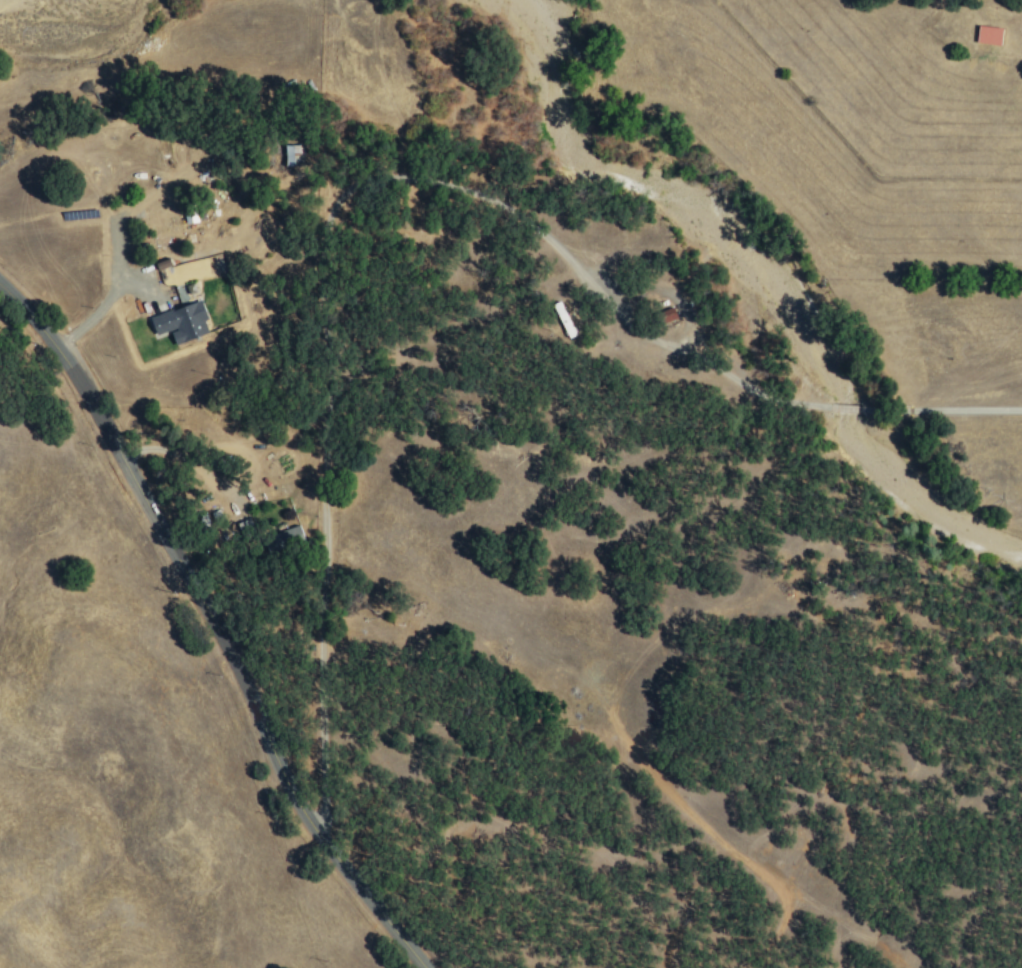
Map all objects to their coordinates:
building: (988, 36)
building: (293, 155)
river: (675, 198)
road: (99, 306)
building: (181, 323)
river: (919, 500)
building: (243, 527)
building: (285, 539)
road: (323, 541)
road: (215, 624)

